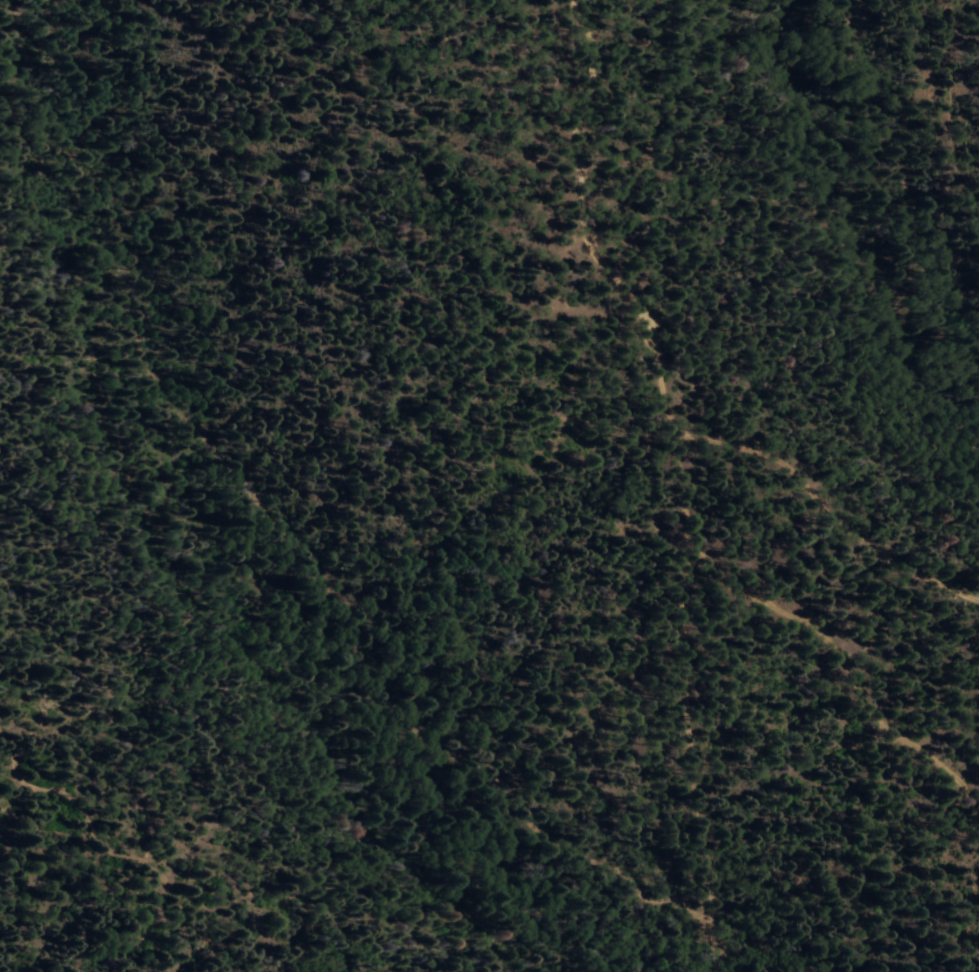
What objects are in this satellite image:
road: (556, 162)
road: (827, 512)
road: (762, 601)

